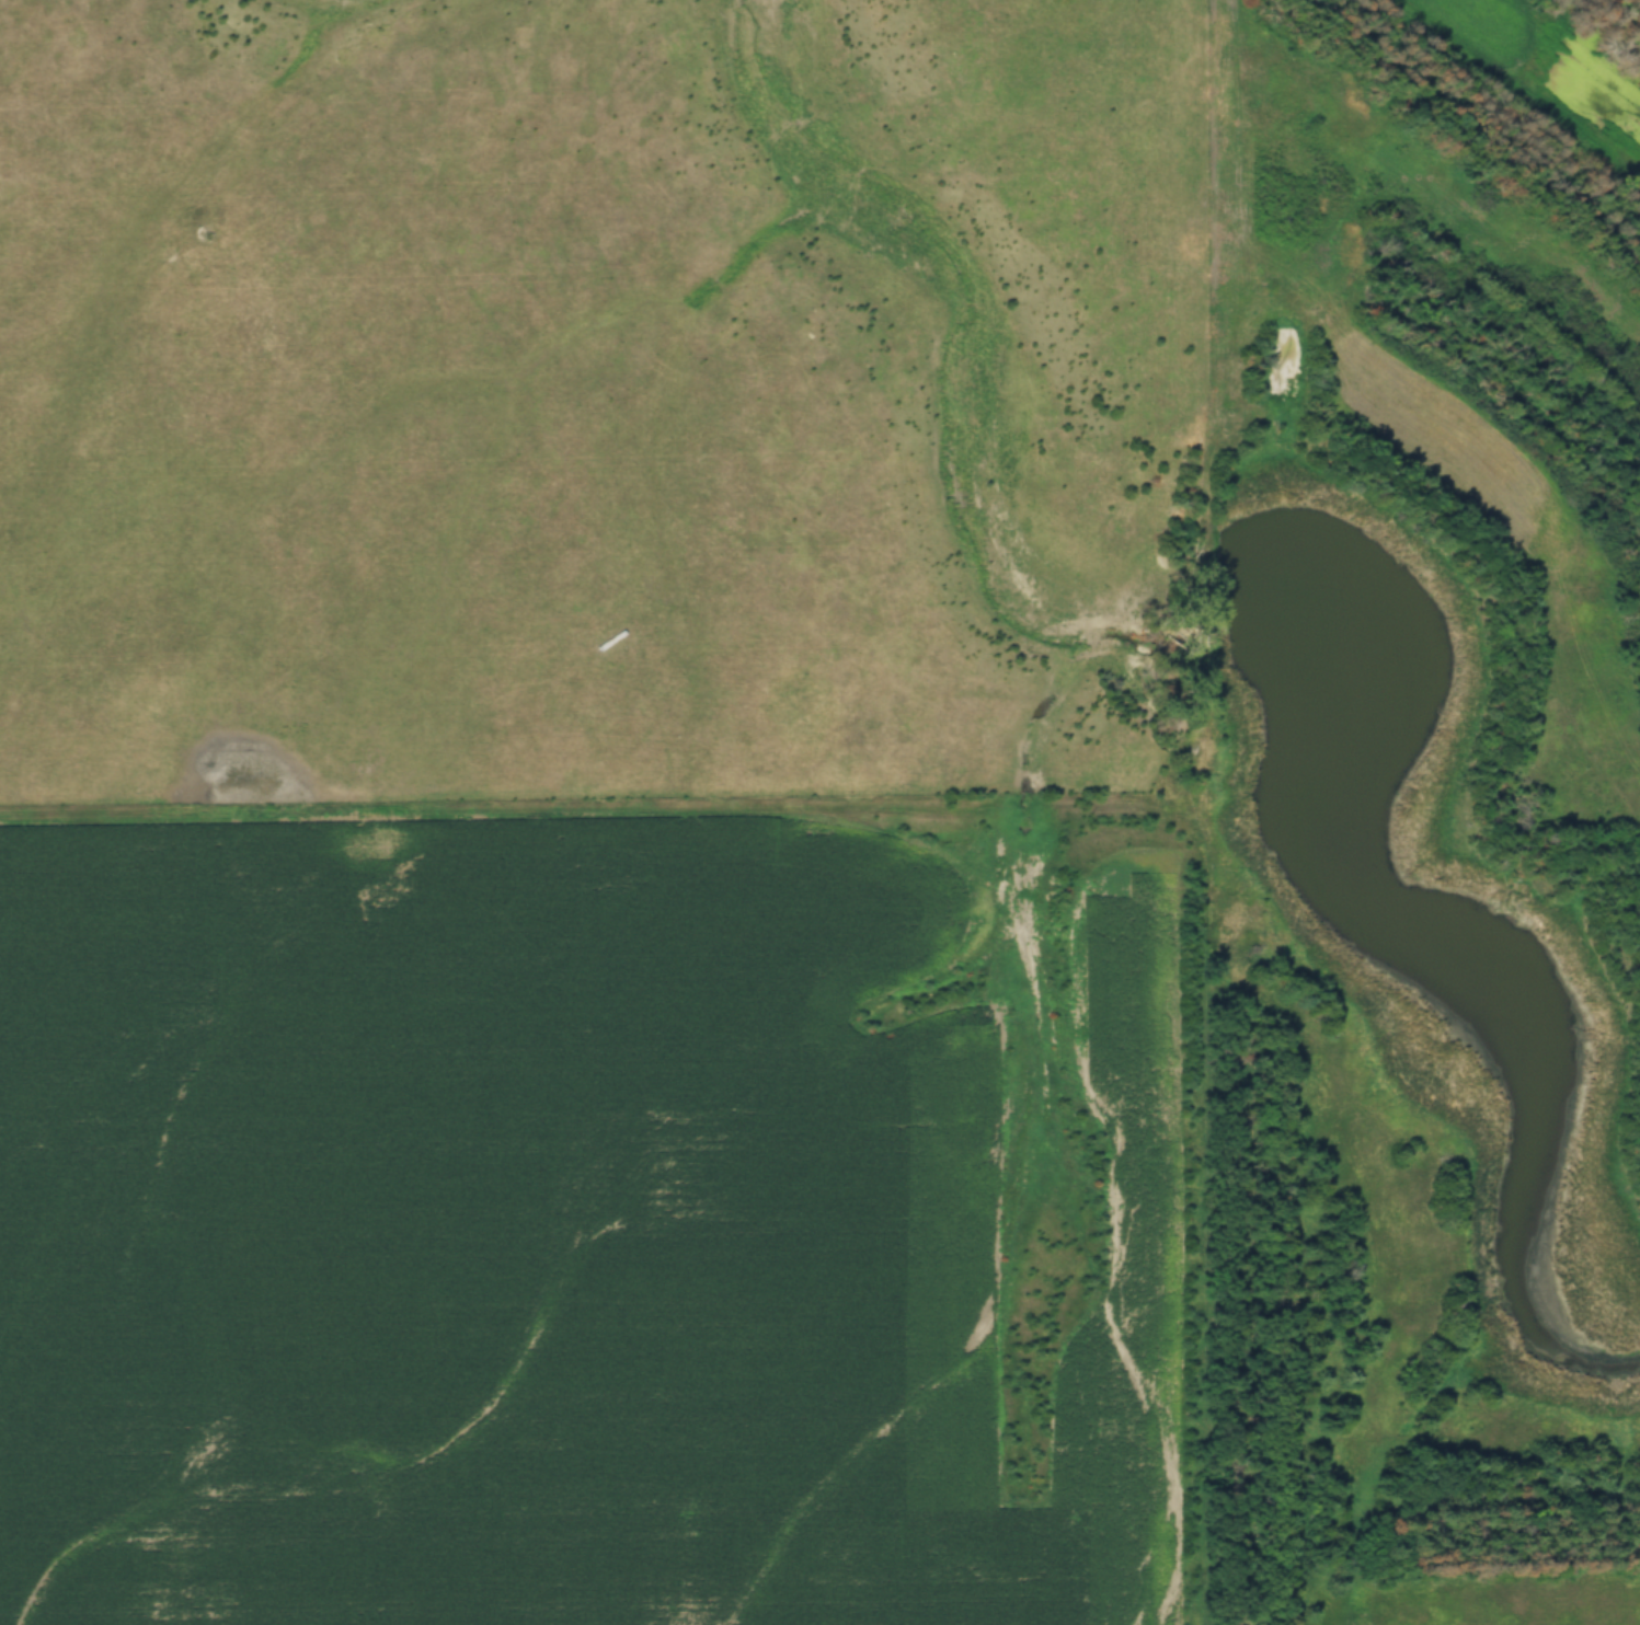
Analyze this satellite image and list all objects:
dam: (1215, 581)

